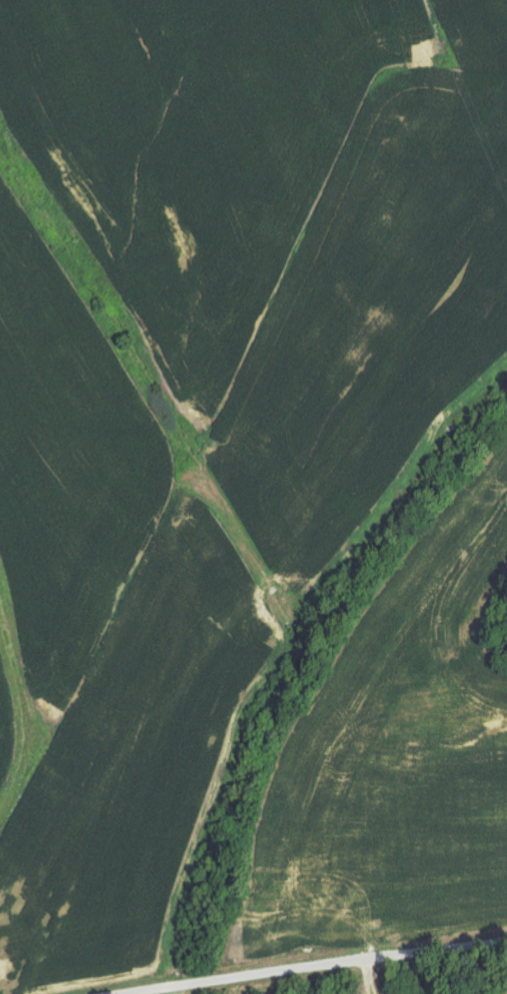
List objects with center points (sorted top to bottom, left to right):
road: (312, 966)

